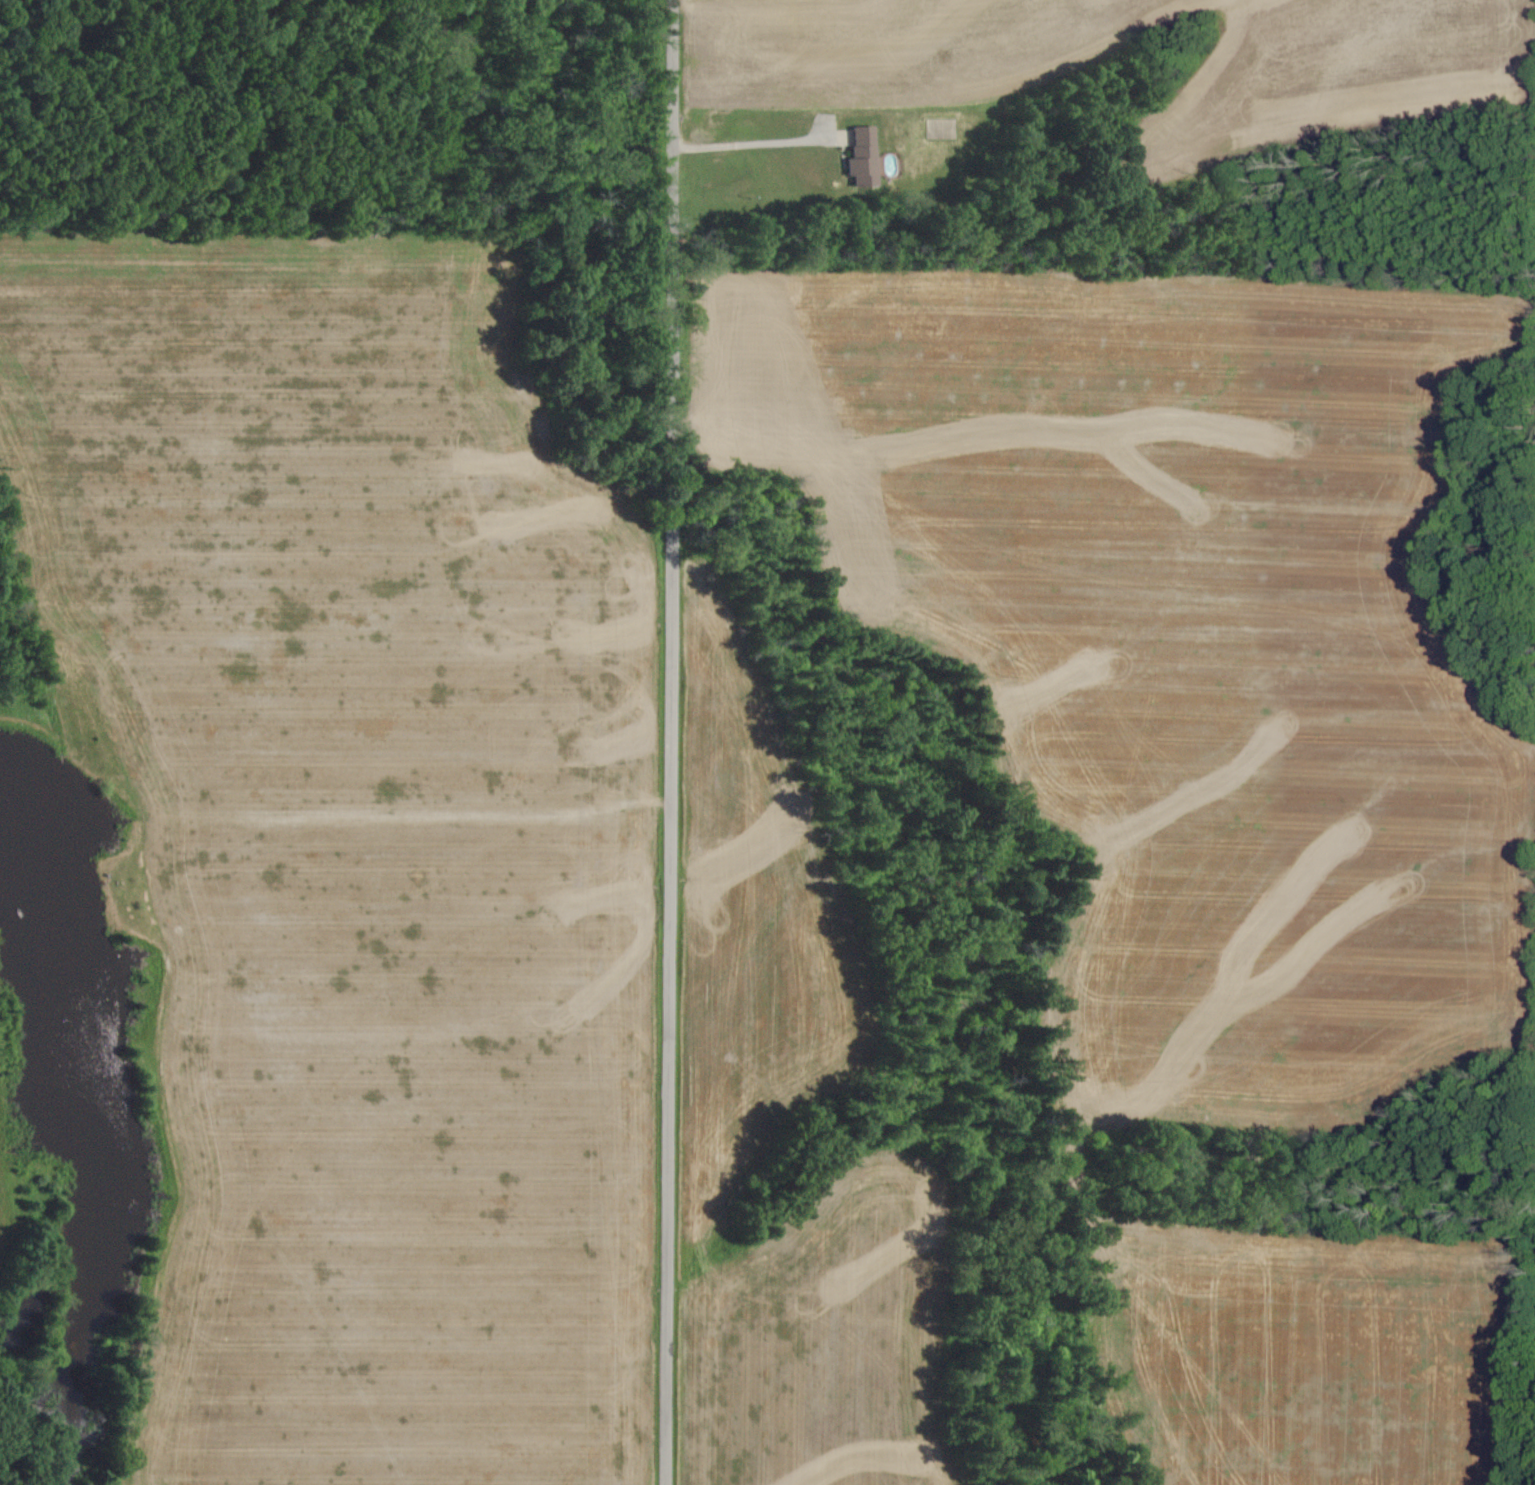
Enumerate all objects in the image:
road: (758, 145)
building: (871, 158)
road: (666, 742)

